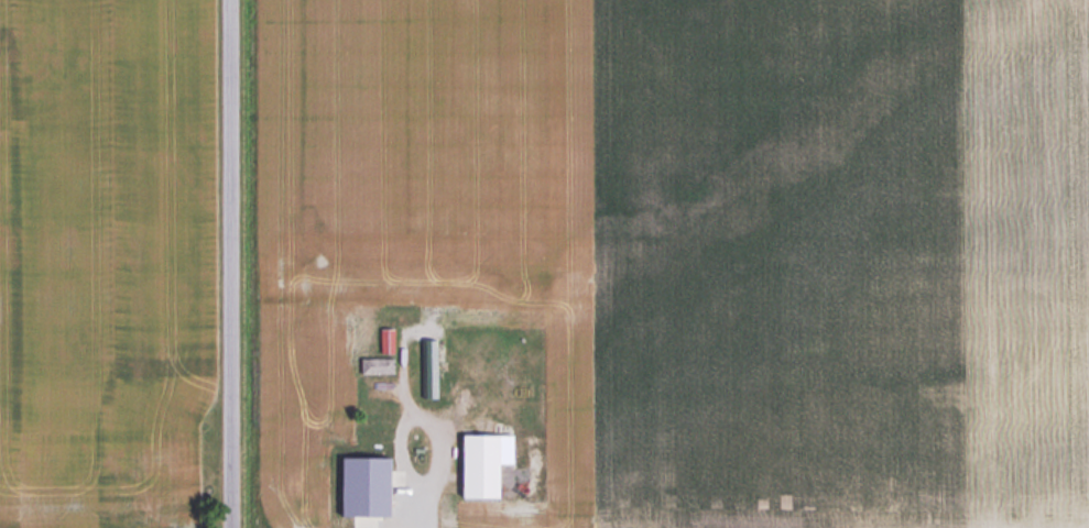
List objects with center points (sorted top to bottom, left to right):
road: (232, 264)
building: (384, 340)
building: (428, 362)
building: (375, 365)
building: (479, 463)

